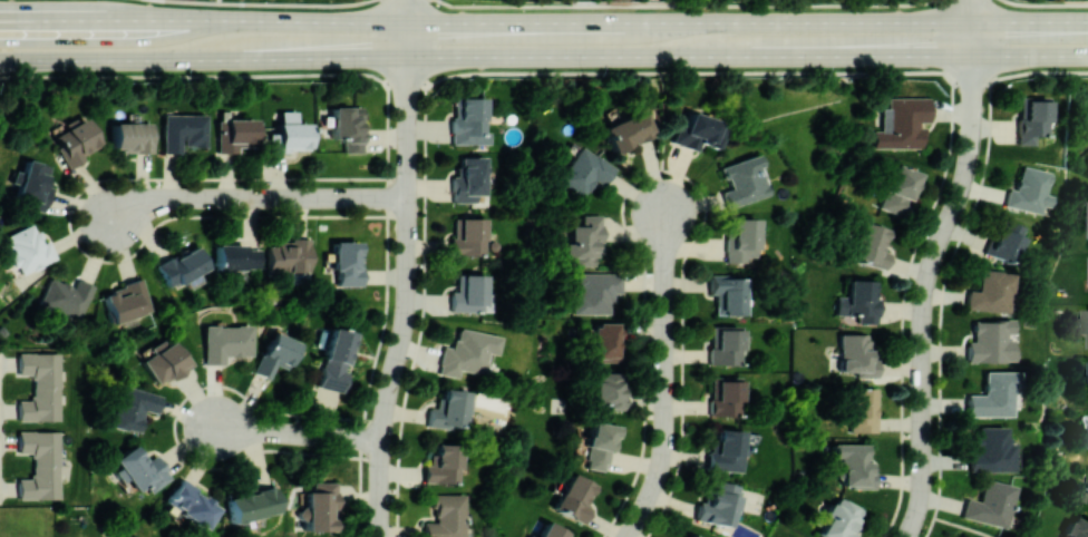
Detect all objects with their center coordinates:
road: (270, 2)
road: (1047, 3)
road: (683, 4)
road: (407, 10)
road: (543, 21)
road: (973, 28)
road: (543, 56)
road: (544, 71)
building: (1031, 118)
park: (1078, 118)
building: (468, 120)
road: (663, 120)
building: (902, 123)
building: (347, 127)
building: (626, 130)
building: (183, 131)
building: (698, 131)
building: (234, 134)
building: (289, 134)
park: (806, 135)
building: (132, 136)
building: (76, 139)
building: (584, 172)
building: (468, 179)
building: (741, 180)
building: (33, 185)
building: (897, 189)
building: (1029, 192)
road: (254, 197)
building: (468, 236)
building: (740, 240)
building: (582, 241)
building: (1004, 241)
building: (870, 245)
building: (27, 248)
building: (290, 256)
building: (237, 257)
building: (347, 262)
building: (181, 266)
road: (408, 280)
building: (989, 291)
building: (595, 292)
building: (726, 292)
building: (469, 293)
road: (926, 293)
building: (66, 296)
building: (858, 300)
building: (126, 301)
building: (1087, 323)
building: (989, 341)
building: (225, 342)
building: (604, 342)
building: (723, 344)
building: (467, 352)
building: (274, 354)
building: (855, 355)
building: (336, 359)
building: (165, 361)
road: (664, 377)
building: (40, 385)
building: (608, 389)
building: (992, 394)
building: (723, 397)
building: (133, 407)
building: (449, 409)
building: (863, 410)
road: (298, 432)
building: (599, 446)
building: (725, 450)
building: (990, 450)
building: (40, 465)
building: (444, 465)
building: (853, 465)
building: (139, 469)
building: (1085, 496)
building: (574, 497)
building: (190, 502)
building: (252, 504)
building: (716, 504)
building: (989, 504)
building: (319, 507)
building: (446, 516)
building: (839, 519)
road: (966, 527)
building: (1078, 527)
building: (551, 531)
building: (959, 536)

